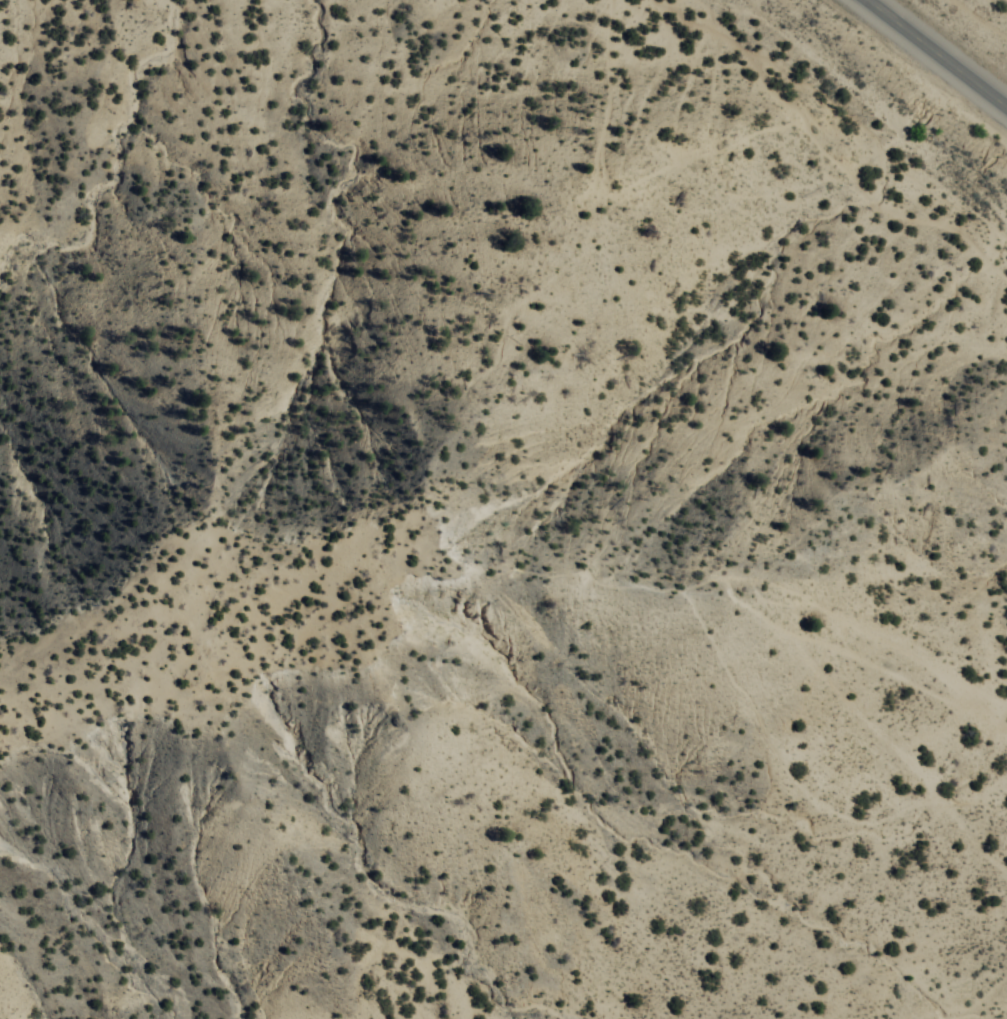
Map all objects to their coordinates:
road: (936, 53)
road: (824, 143)
road: (969, 1003)

